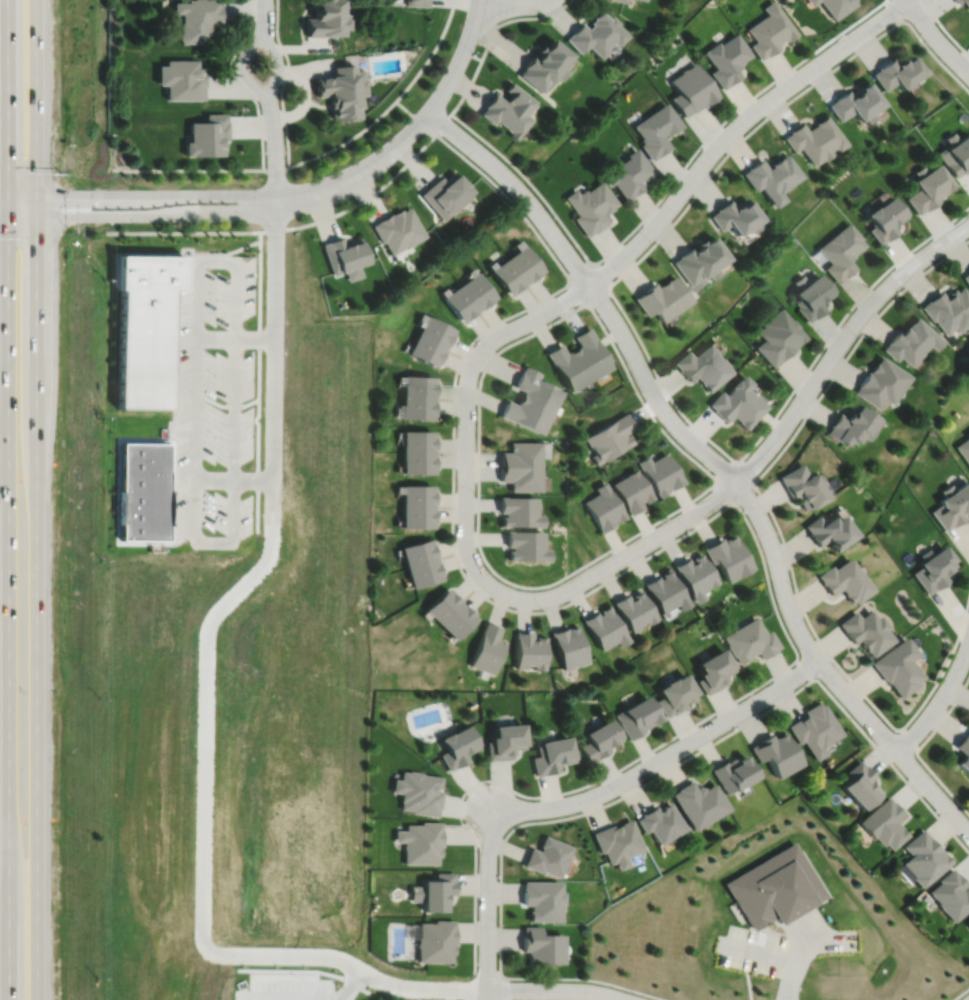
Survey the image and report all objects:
building: (638, 0)
building: (620, 1)
building: (415, 2)
road: (497, 2)
building: (963, 3)
road: (513, 6)
building: (834, 6)
road: (893, 11)
road: (264, 13)
road: (532, 17)
building: (194, 19)
building: (323, 19)
road: (944, 29)
building: (769, 32)
building: (596, 35)
road: (936, 38)
street lamp: (473, 52)
building: (726, 61)
road: (277, 65)
building: (544, 66)
road: (241, 68)
building: (896, 74)
building: (179, 81)
road: (448, 81)
road: (283, 82)
road: (238, 84)
building: (690, 91)
building: (339, 92)
road: (7, 95)
road: (35, 95)
road: (392, 104)
building: (855, 105)
street lamp: (261, 109)
building: (508, 111)
street lamp: (406, 120)
building: (655, 132)
building: (205, 137)
building: (814, 141)
building: (956, 153)
road: (275, 158)
street lamp: (476, 163)
traffic signals: (7, 164)
road: (202, 169)
building: (629, 172)
building: (771, 178)
street lamp: (133, 186)
street lamp: (243, 186)
road: (686, 186)
building: (928, 187)
road: (3, 190)
road: (21, 191)
traffic signals: (58, 194)
building: (445, 194)
road: (219, 195)
road: (659, 199)
street lamp: (349, 200)
road: (6, 201)
road: (35, 202)
road: (354, 205)
building: (591, 205)
road: (3, 211)
road: (20, 211)
road: (224, 212)
building: (736, 215)
building: (884, 216)
street lamp: (134, 222)
street lamp: (244, 222)
road: (967, 223)
road: (967, 224)
building: (398, 228)
traffic signals: (35, 233)
building: (841, 249)
building: (344, 255)
building: (699, 260)
road: (216, 261)
building: (525, 261)
building: (507, 274)
building: (966, 275)
road: (606, 285)
road: (35, 289)
building: (477, 289)
building: (811, 294)
building: (663, 296)
building: (460, 301)
building: (948, 308)
road: (627, 317)
building: (145, 325)
building: (435, 330)
building: (777, 335)
road: (235, 340)
building: (911, 340)
road: (840, 342)
building: (425, 348)
building: (590, 352)
road: (175, 359)
building: (703, 365)
building: (568, 366)
road: (273, 381)
building: (880, 381)
road: (258, 382)
building: (418, 385)
building: (537, 388)
building: (736, 401)
parking lot: (215, 403)
building: (417, 406)
building: (526, 414)
road: (35, 416)
building: (852, 423)
building: (968, 432)
building: (611, 437)
building: (416, 440)
building: (964, 448)
building: (521, 453)
building: (416, 461)
road: (715, 461)
road: (737, 463)
road: (701, 465)
building: (661, 472)
building: (521, 476)
building: (801, 485)
road: (465, 486)
building: (633, 490)
building: (143, 491)
building: (416, 495)
building: (952, 504)
building: (604, 507)
building: (518, 511)
building: (416, 516)
road: (194, 522)
building: (828, 530)
road: (779, 531)
road: (668, 543)
building: (525, 545)
building: (418, 552)
road: (622, 556)
building: (727, 556)
building: (933, 568)
building: (423, 573)
building: (696, 575)
building: (844, 580)
building: (666, 591)
road: (7, 605)
building: (442, 605)
building: (634, 610)
building: (457, 620)
building: (605, 628)
building: (865, 631)
building: (750, 640)
building: (569, 646)
building: (488, 649)
building: (530, 650)
road: (804, 667)
building: (897, 667)
building: (714, 671)
building: (676, 695)
road: (939, 701)
building: (637, 717)
building: (813, 728)
road: (36, 732)
road: (908, 737)
building: (600, 740)
building: (505, 742)
road: (919, 746)
building: (457, 747)
building: (963, 750)
building: (776, 751)
building: (552, 756)
road: (661, 759)
building: (732, 771)
building: (860, 782)
road: (632, 789)
building: (418, 791)
building: (698, 800)
building: (661, 820)
building: (884, 821)
building: (420, 840)
building: (617, 840)
building: (547, 854)
building: (923, 856)
road: (203, 880)
building: (774, 885)
building: (434, 890)
building: (951, 893)
building: (542, 898)
road: (487, 904)
road: (802, 924)
building: (968, 926)
road: (832, 936)
building: (435, 939)
building: (541, 944)
road: (803, 948)
parking lot: (752, 950)
road: (758, 951)
road: (791, 980)
road: (351, 987)
road: (503, 988)
road: (554, 990)
road: (961, 994)
road: (283, 999)

